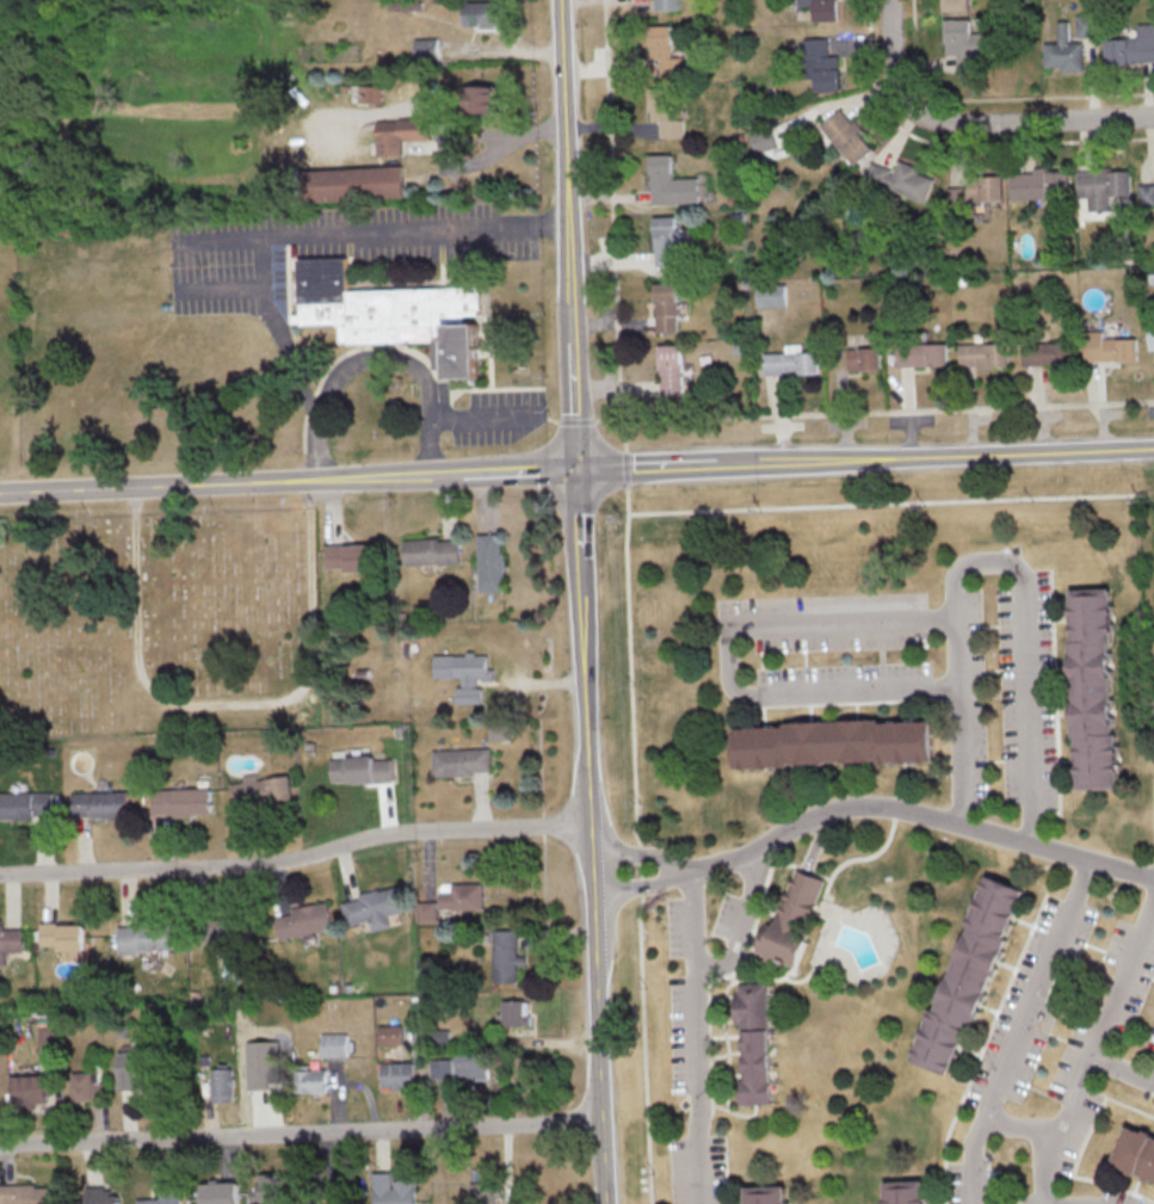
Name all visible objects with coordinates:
building: (667, 5)
building: (956, 5)
building: (822, 8)
building: (482, 13)
building: (1084, 24)
building: (967, 42)
building: (1131, 47)
building: (426, 48)
building: (1067, 48)
building: (664, 53)
building: (823, 66)
building: (370, 93)
building: (482, 98)
road: (396, 107)
building: (661, 118)
road: (975, 123)
building: (400, 134)
road: (512, 134)
building: (847, 136)
building: (767, 142)
building: (901, 180)
building: (358, 183)
building: (669, 183)
building: (1039, 184)
building: (1103, 186)
building: (979, 189)
building: (1147, 193)
road: (389, 228)
road: (568, 235)
building: (669, 242)
building: (771, 295)
building: (666, 307)
building: (393, 316)
building: (1150, 335)
building: (1107, 347)
building: (1048, 352)
road: (371, 354)
building: (921, 354)
building: (983, 354)
building: (863, 358)
building: (789, 360)
building: (671, 371)
road: (477, 416)
road: (576, 470)
traffic signals: (576, 471)
building: (431, 551)
building: (350, 556)
road: (994, 561)
building: (489, 562)
park: (159, 628)
road: (728, 659)
building: (463, 673)
building: (1093, 687)
road: (232, 704)
building: (832, 742)
building: (459, 761)
building: (360, 770)
building: (261, 790)
building: (183, 801)
building: (100, 803)
building: (25, 804)
road: (870, 807)
road: (590, 838)
road: (296, 859)
building: (463, 896)
building: (375, 907)
building: (427, 910)
building: (306, 920)
road: (745, 920)
building: (794, 920)
building: (223, 931)
building: (66, 938)
building: (147, 938)
building: (10, 941)
building: (506, 955)
building: (970, 974)
building: (514, 1017)
road: (1020, 1032)
building: (389, 1033)
road: (699, 1036)
building: (50, 1042)
building: (333, 1044)
building: (755, 1044)
road: (1093, 1049)
building: (261, 1064)
building: (470, 1064)
building: (134, 1067)
building: (442, 1068)
road: (1121, 1072)
building: (397, 1074)
building: (314, 1080)
building: (222, 1085)
building: (85, 1087)
building: (31, 1088)
road: (301, 1132)
building: (1136, 1154)
road: (506, 1165)
building: (390, 1188)
building: (270, 1190)
building: (221, 1192)
building: (907, 1192)
building: (30, 1193)
building: (485, 1193)
building: (765, 1194)
building: (100, 1196)
building: (163, 1196)

